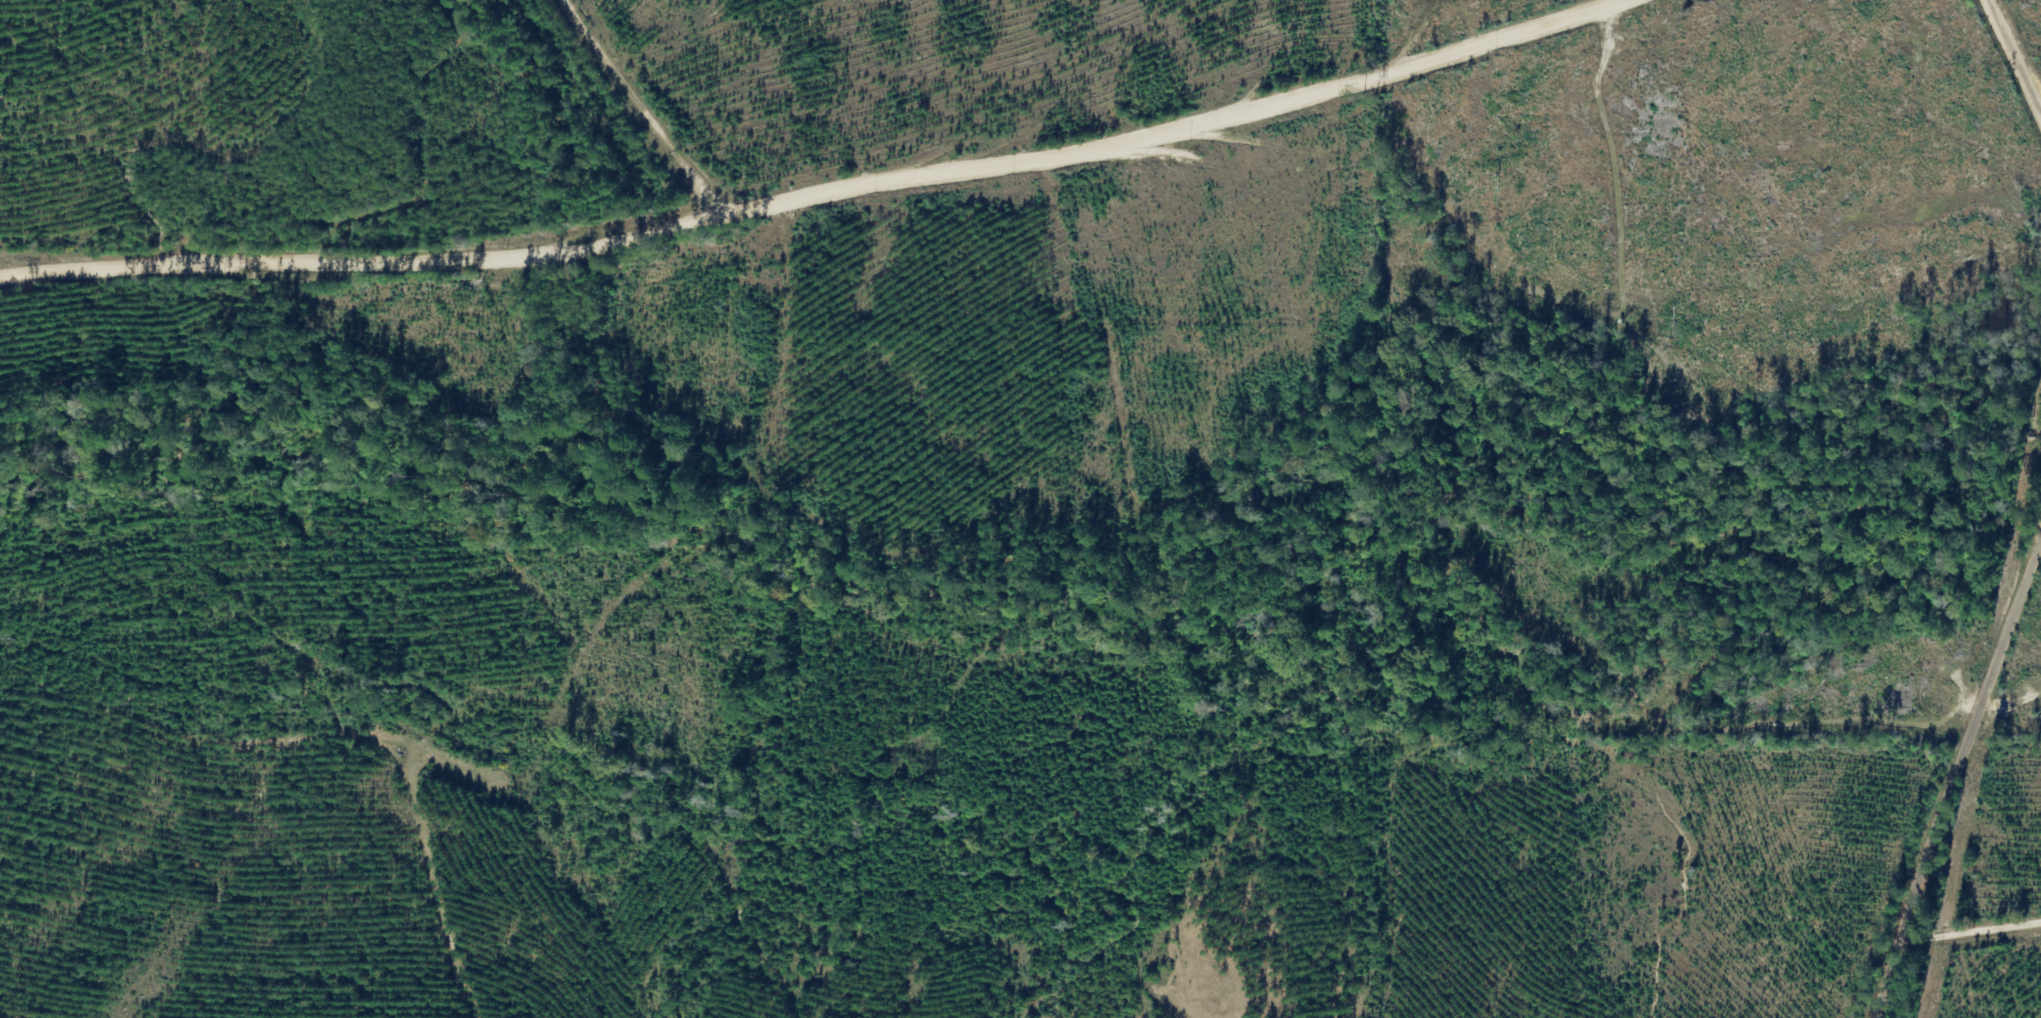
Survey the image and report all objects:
road: (895, 80)
road: (192, 132)
road: (783, 192)
road: (1985, 505)
road: (1953, 922)

